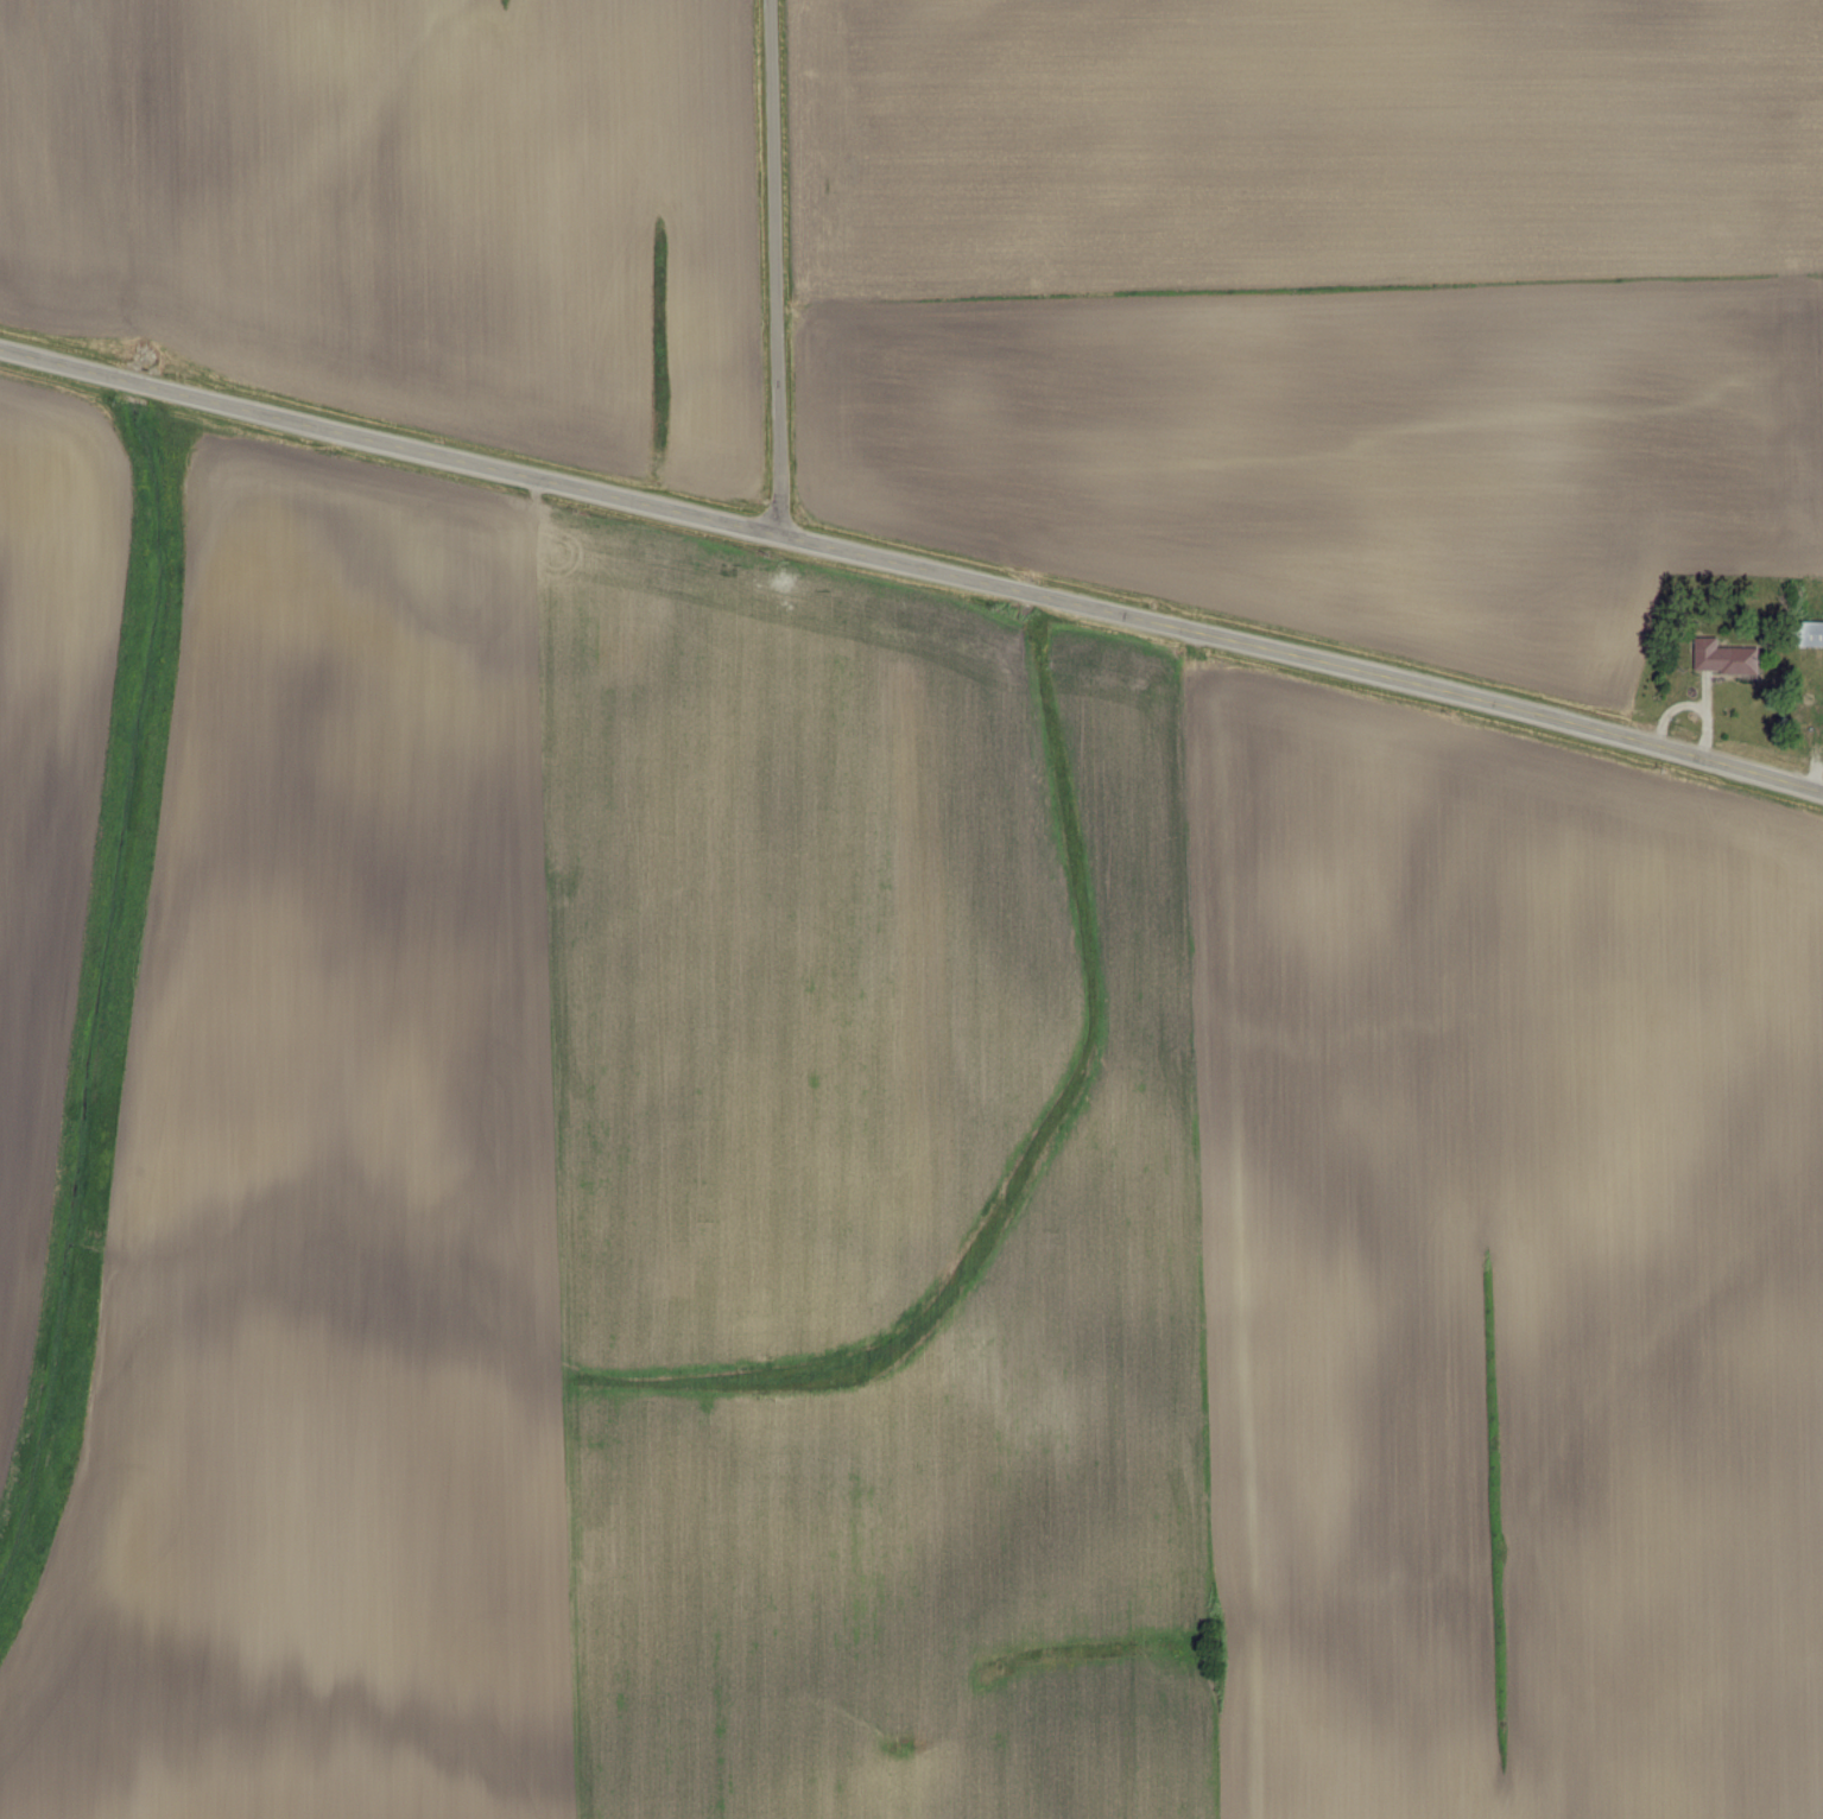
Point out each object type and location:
crop: (410, 209)
road: (774, 267)
crop: (1321, 305)
road: (912, 565)
building: (1708, 657)
crop: (48, 801)
crop: (918, 1224)

